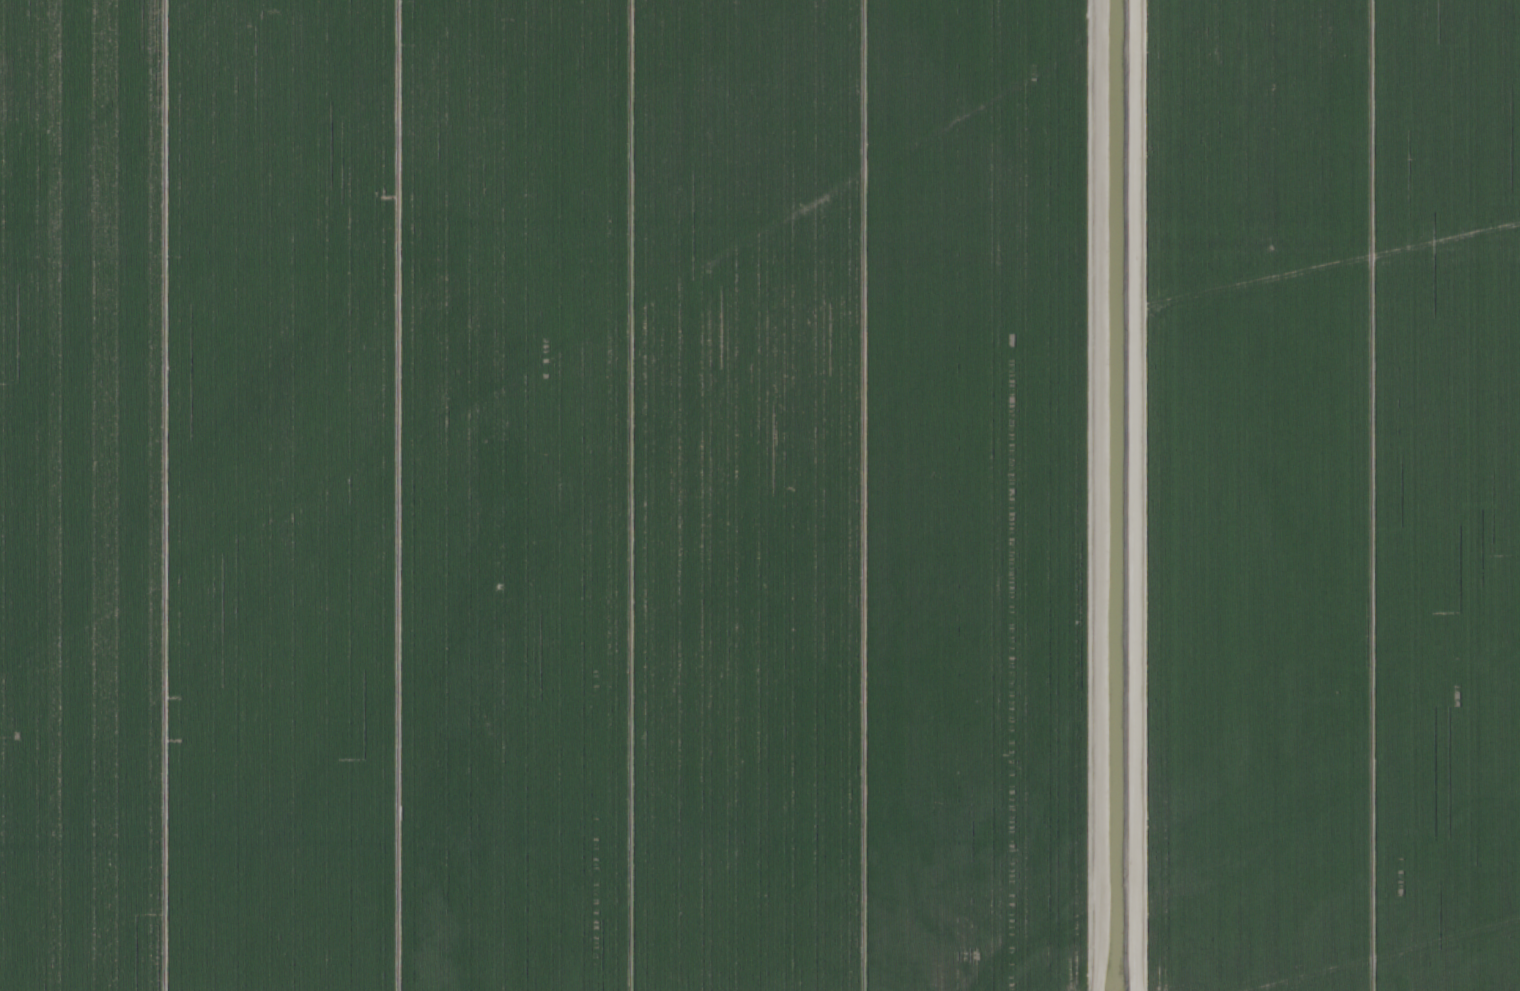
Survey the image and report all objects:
road: (1132, 495)

